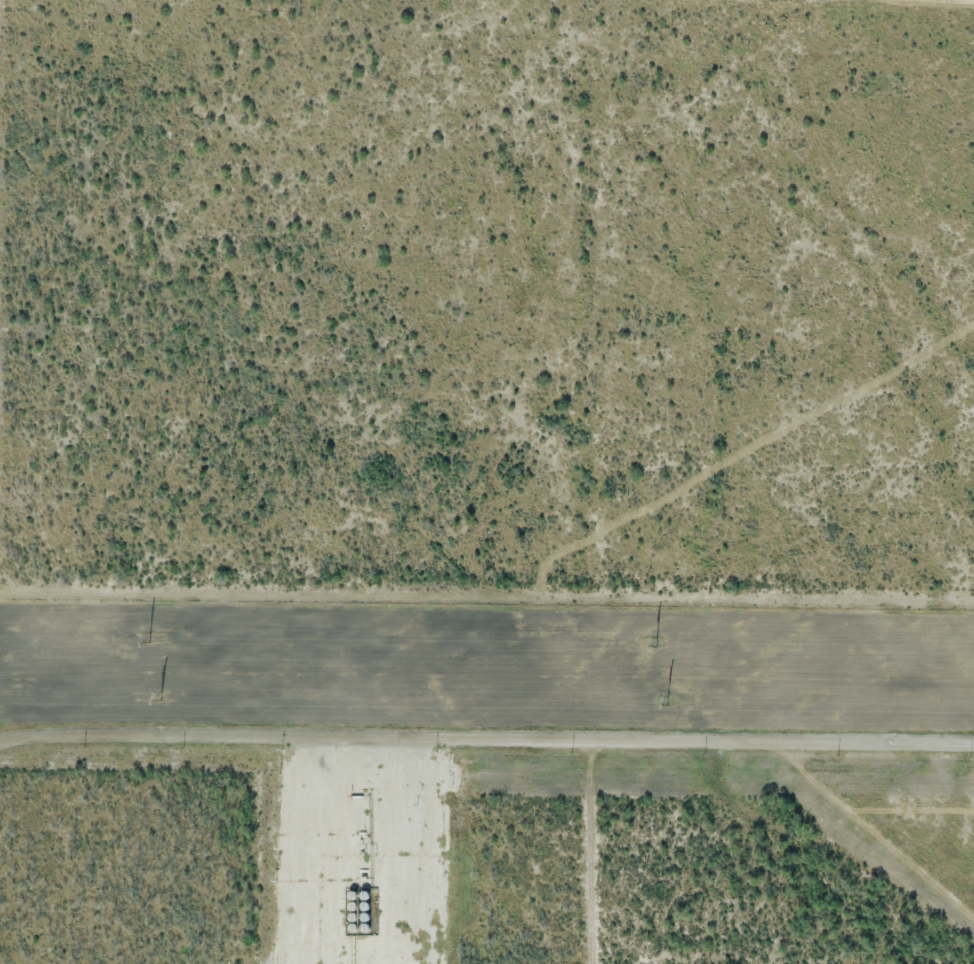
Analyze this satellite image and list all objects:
power tower: (150, 638)
power tower: (656, 643)
power tower: (163, 697)
power tower: (667, 702)
road: (486, 745)
road: (330, 854)

